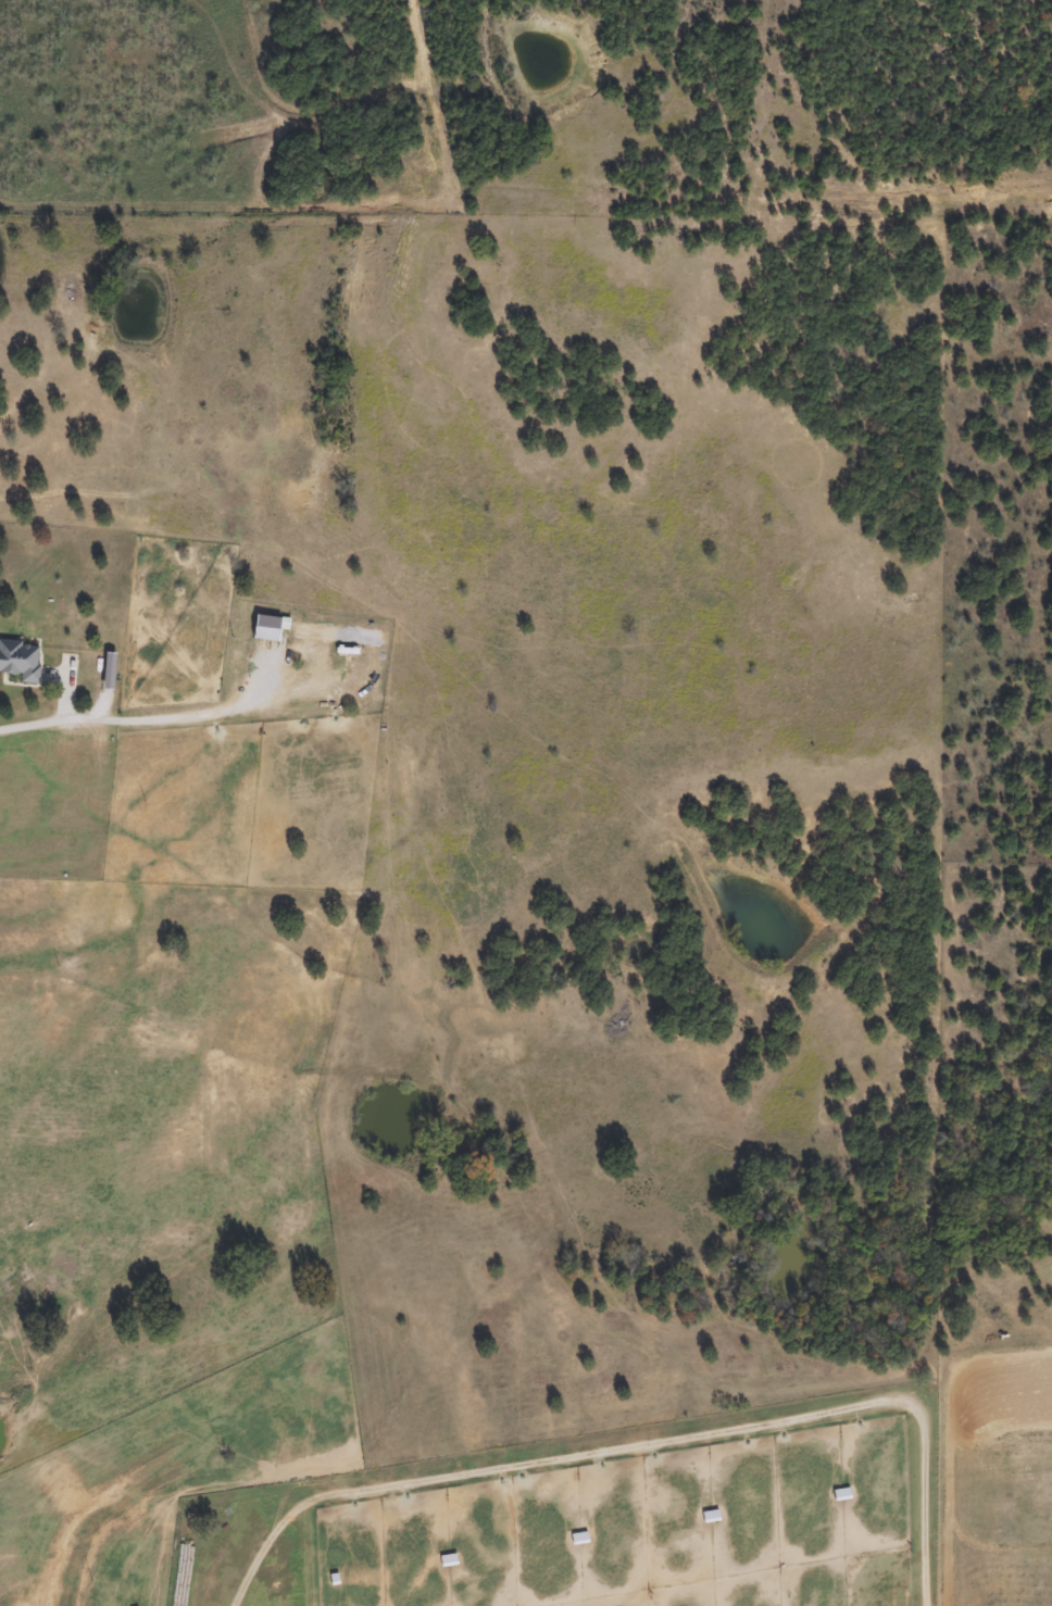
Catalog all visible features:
building: (18, 661)
road: (149, 718)

